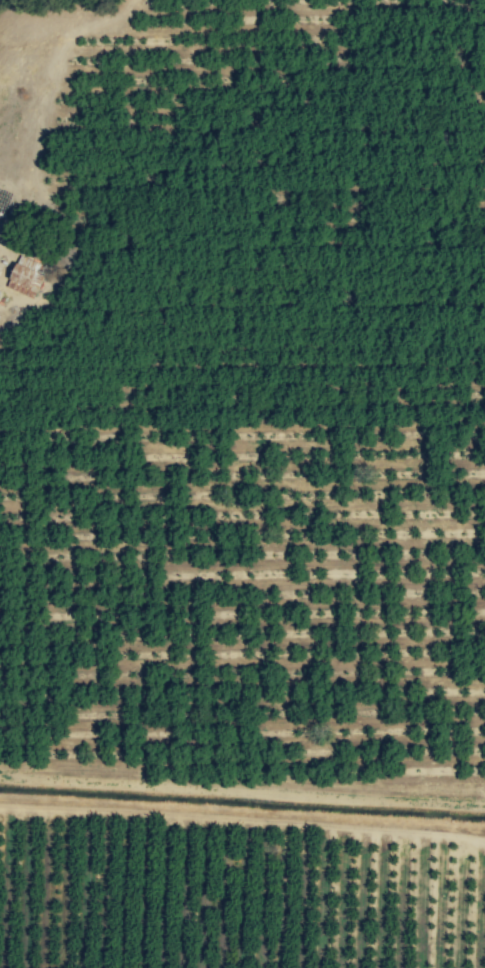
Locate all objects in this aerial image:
building: (25, 278)

